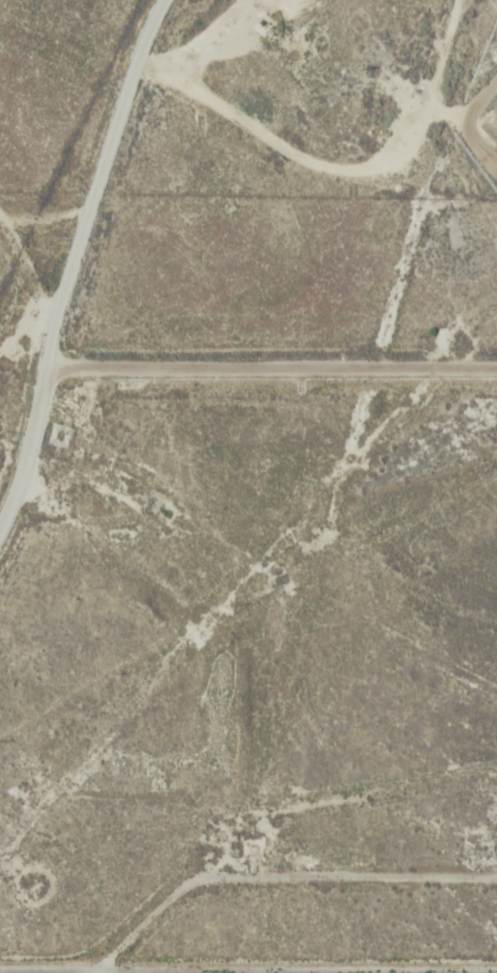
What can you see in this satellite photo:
road: (96, 159)
road: (44, 345)
road: (270, 364)
road: (248, 971)

